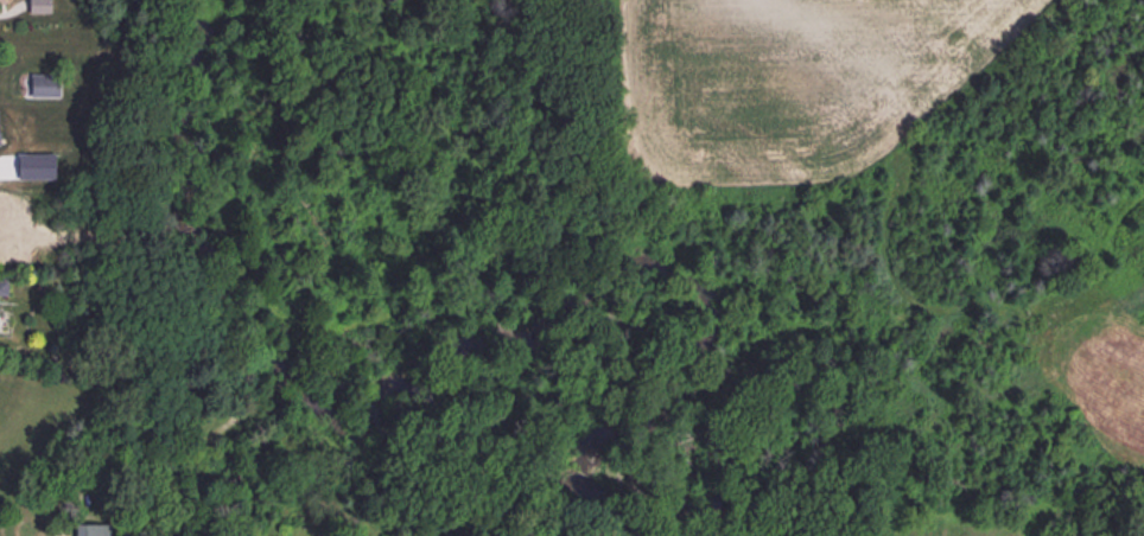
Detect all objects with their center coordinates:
building: (37, 7)
building: (42, 85)
building: (1, 289)
building: (90, 531)

